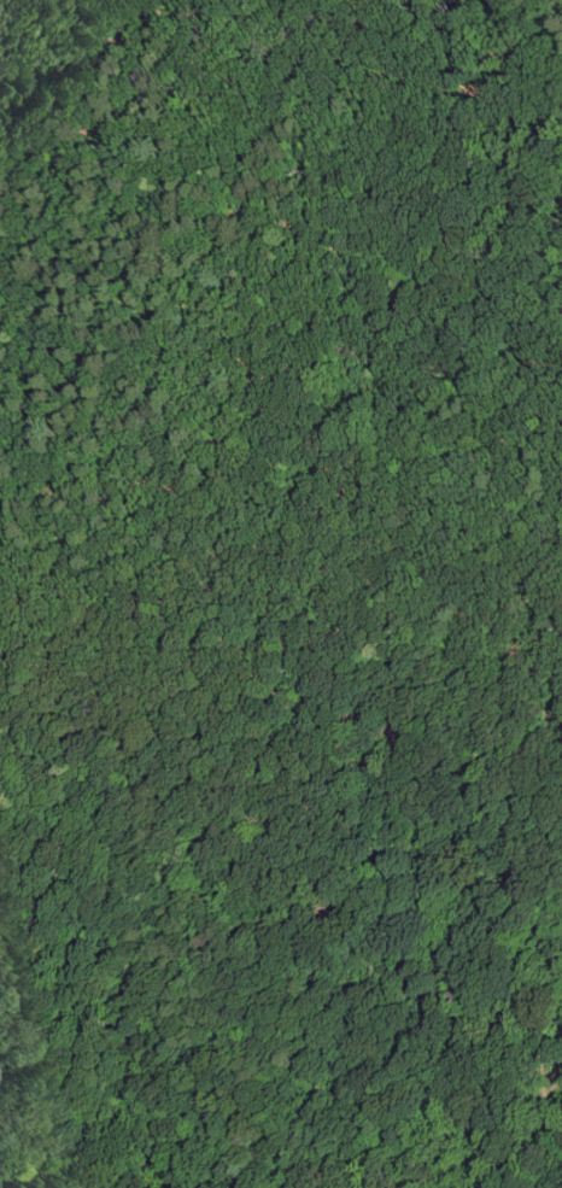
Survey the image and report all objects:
park: (281, 593)

